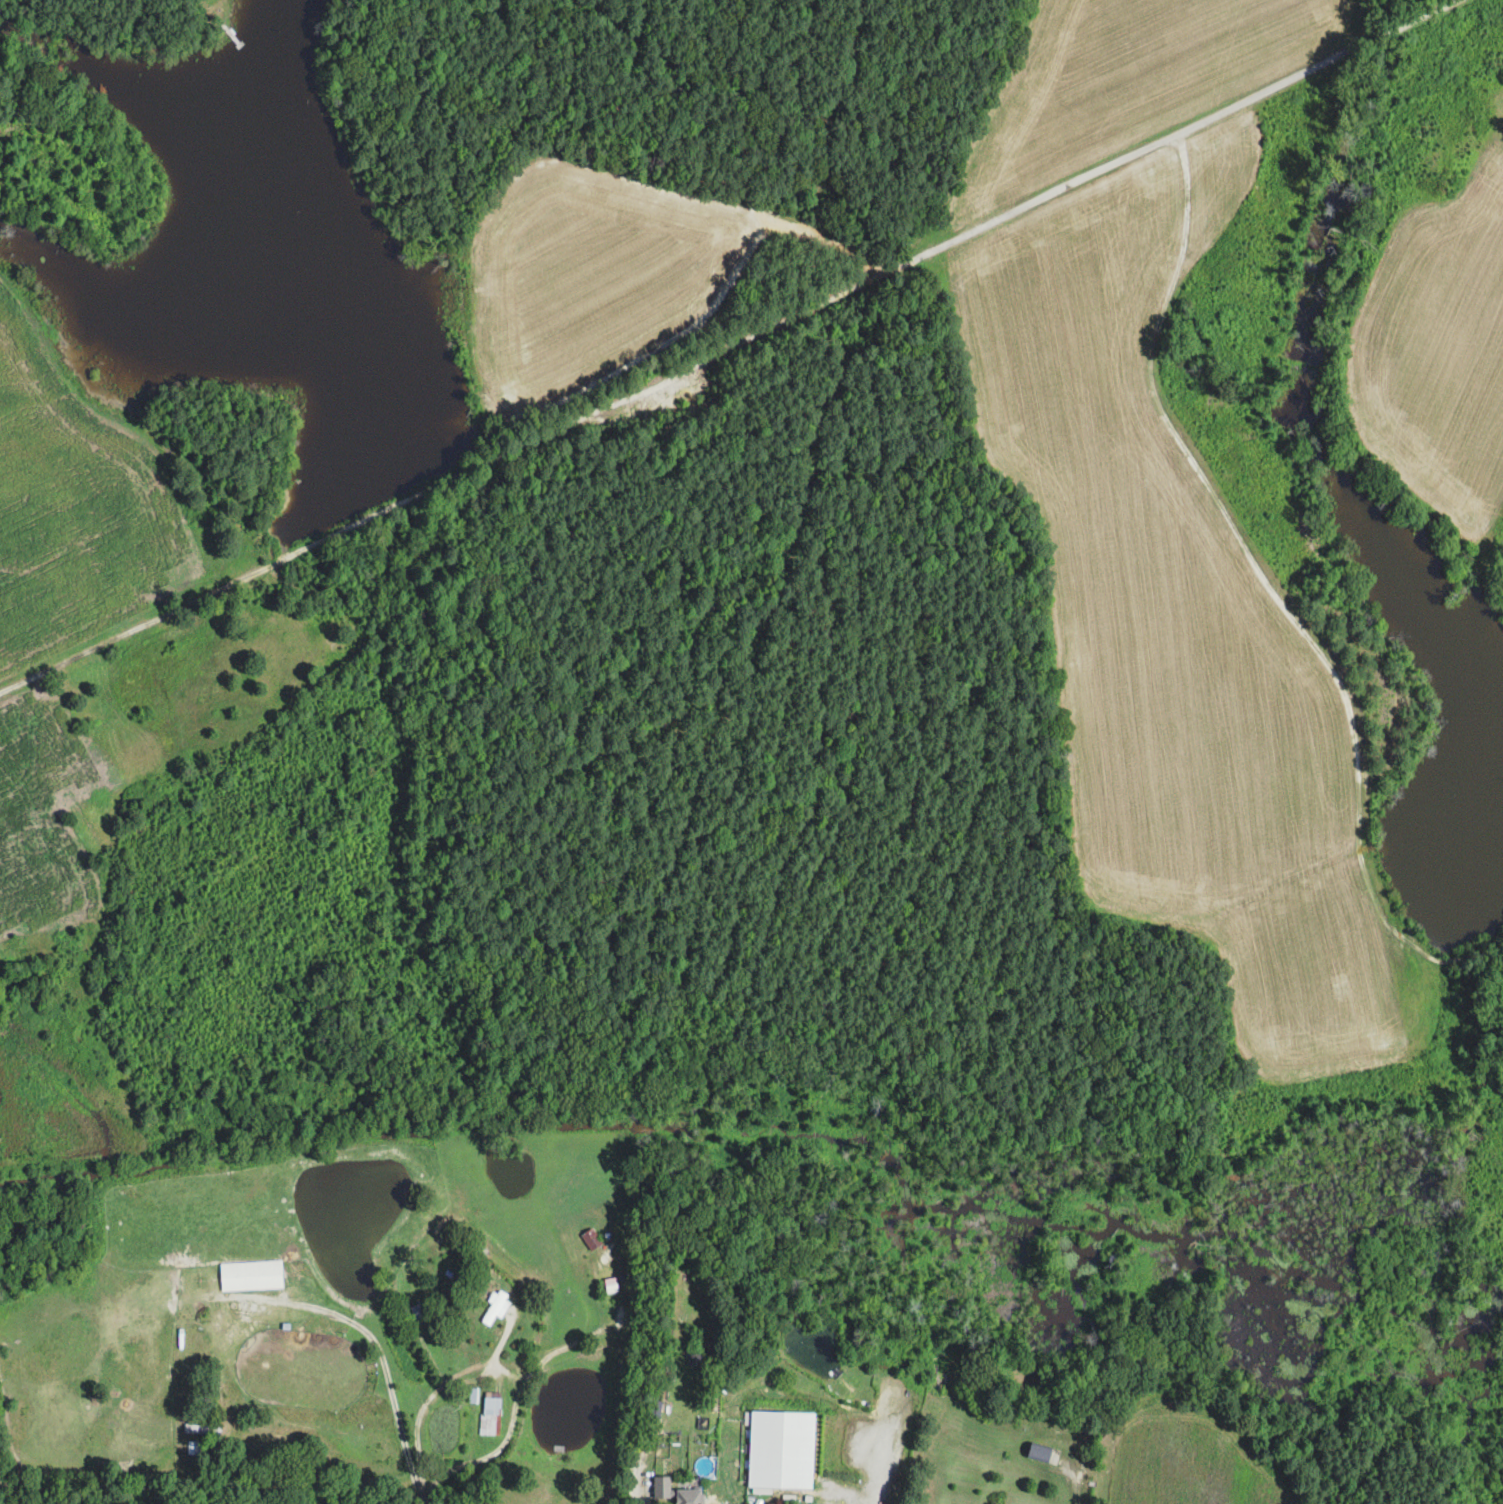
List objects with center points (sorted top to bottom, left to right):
building: (1424, 135)
crop: (1441, 341)
road: (730, 346)
road: (1270, 592)
crop: (1165, 622)
crop: (205, 1216)
building: (591, 1237)
building: (613, 1273)
building: (250, 1275)
building: (530, 1300)
building: (496, 1305)
building: (415, 1307)
road: (176, 1325)
building: (285, 1325)
road: (216, 1329)
road: (441, 1332)
road: (499, 1344)
building: (695, 1346)
road: (493, 1369)
building: (809, 1389)
building: (472, 1393)
building: (656, 1409)
building: (490, 1412)
building: (201, 1429)
building: (193, 1446)
road: (870, 1446)
building: (781, 1449)
road: (493, 1451)
building: (1038, 1452)
crop: (1185, 1452)
building: (680, 1490)
road: (1076, 1490)
road: (634, 1491)
road: (419, 1499)
crop: (1012, 1503)

